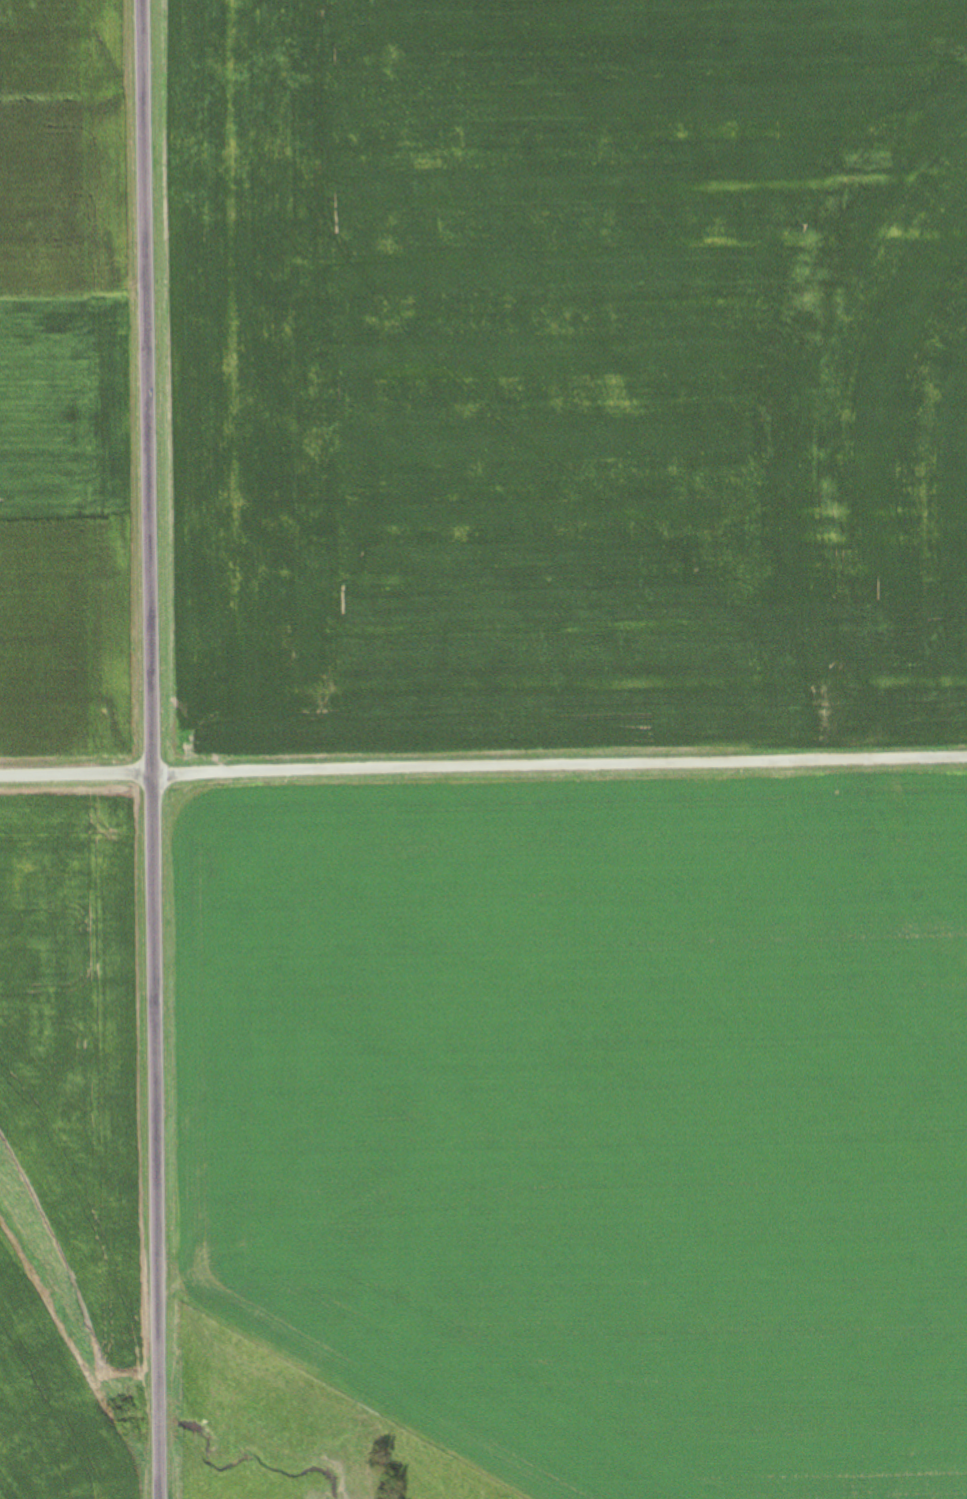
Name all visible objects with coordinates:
road: (147, 749)
road: (557, 764)
road: (74, 772)

